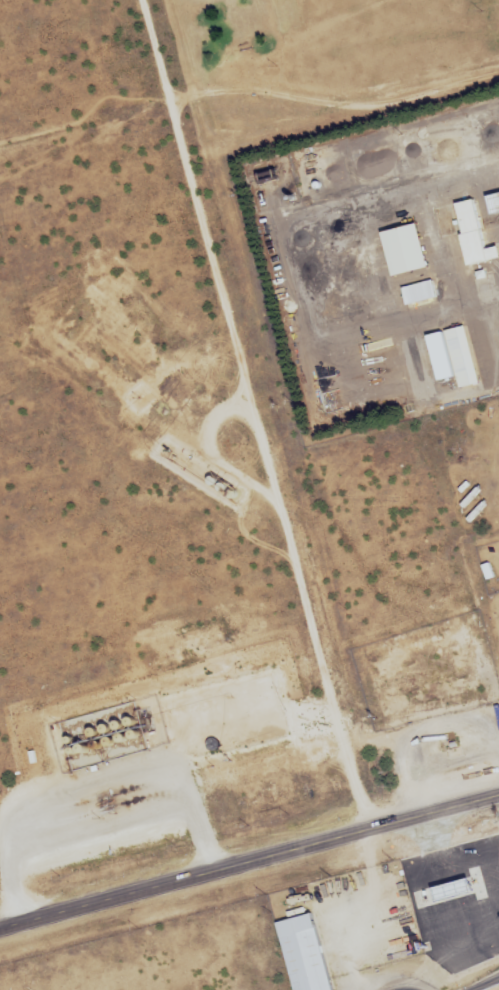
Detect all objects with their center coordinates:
building: (470, 231)
building: (419, 292)
building: (439, 356)
building: (461, 356)
road: (259, 414)
building: (430, 693)
building: (494, 858)
road: (249, 862)
building: (303, 953)

